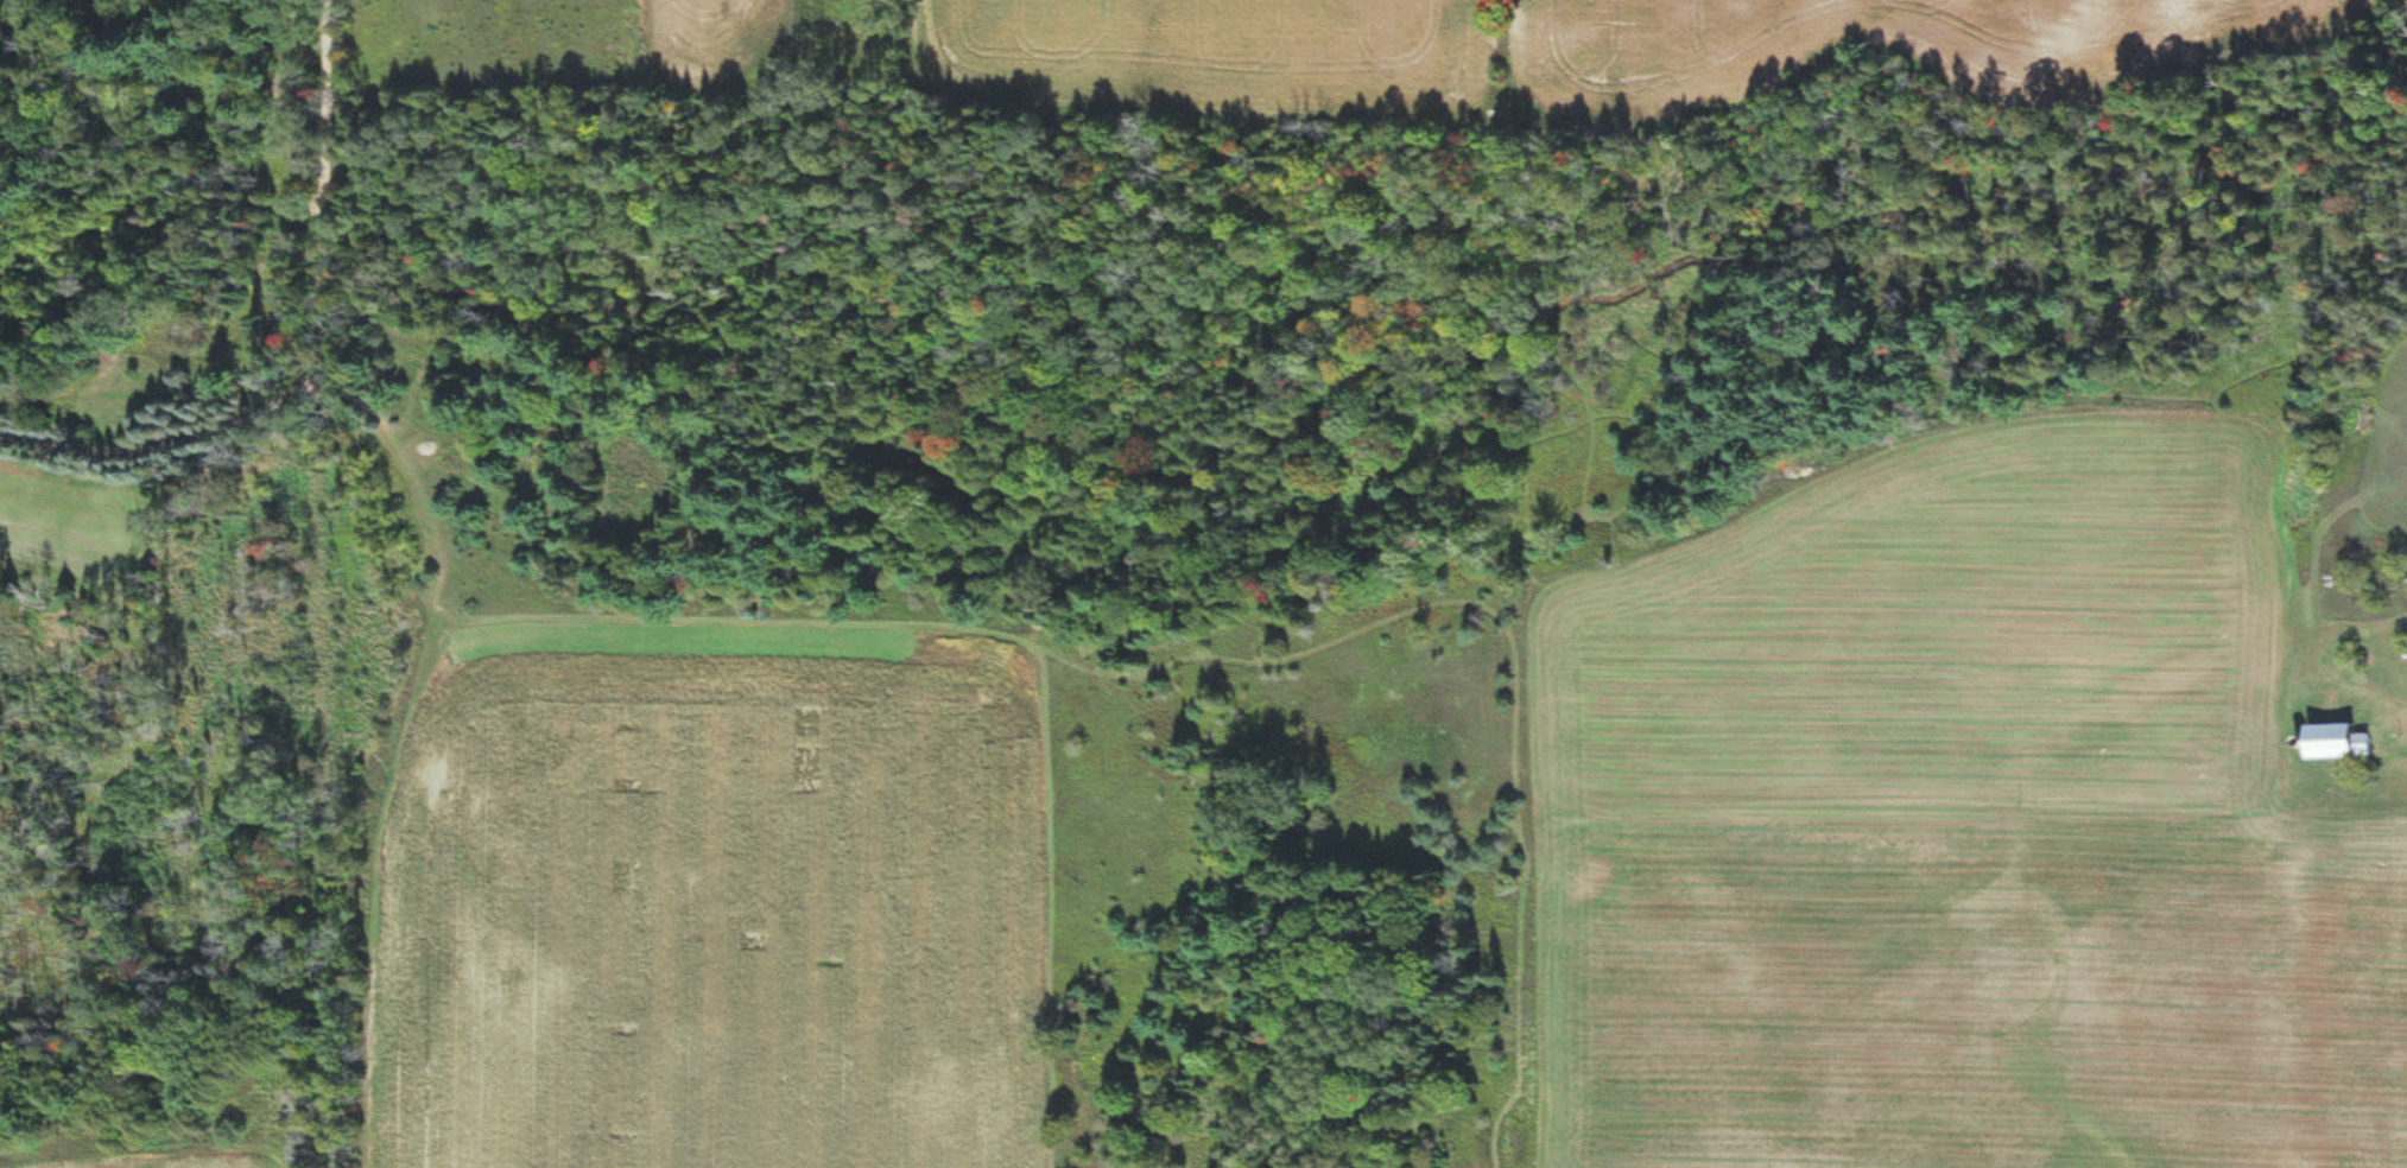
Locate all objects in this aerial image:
road: (328, 89)
building: (2335, 744)

